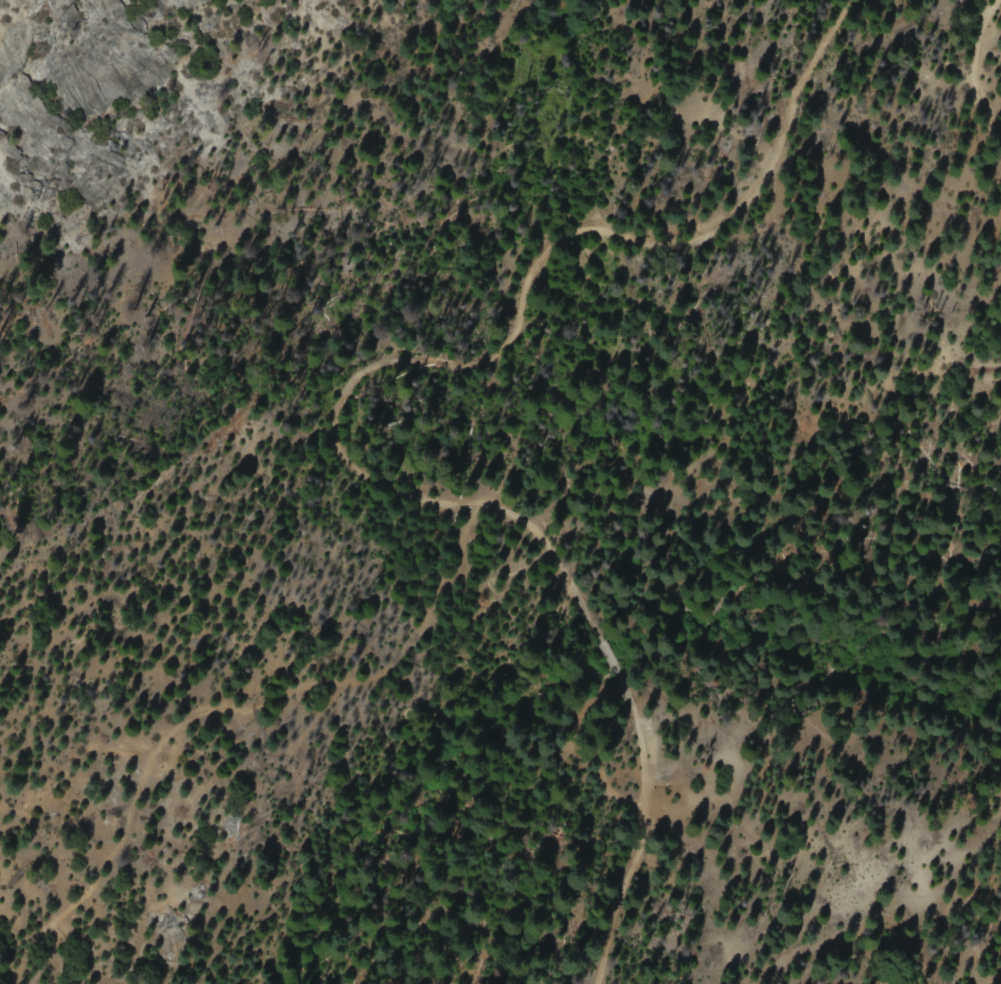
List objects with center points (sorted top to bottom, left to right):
road: (975, 63)
road: (334, 417)

